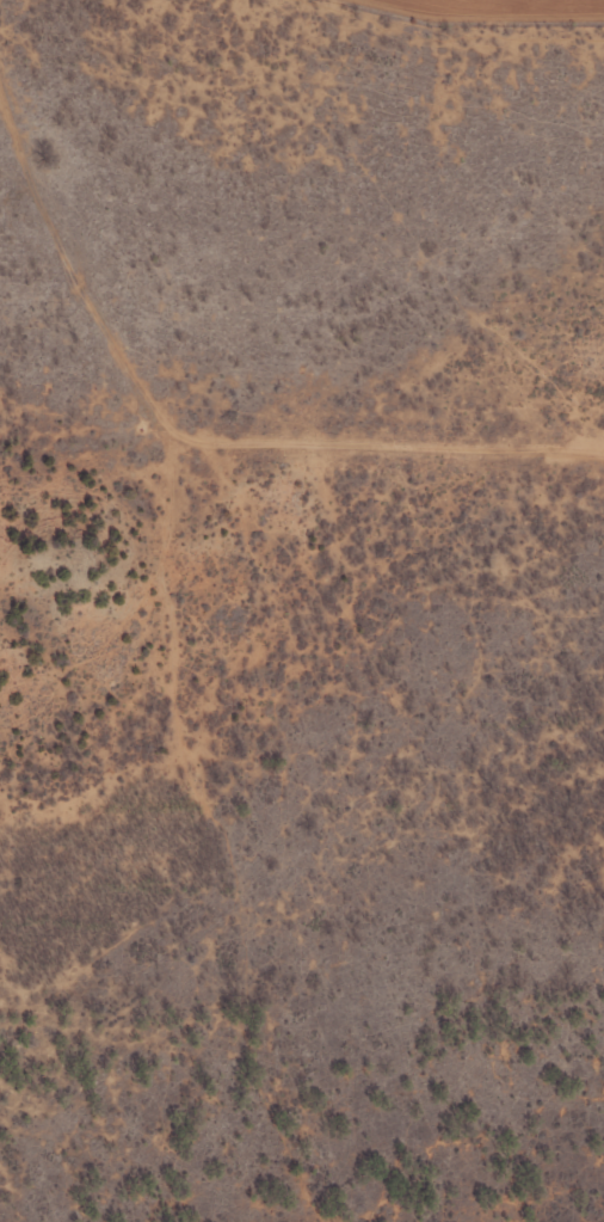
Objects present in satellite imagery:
road: (506, 19)
road: (302, 446)

